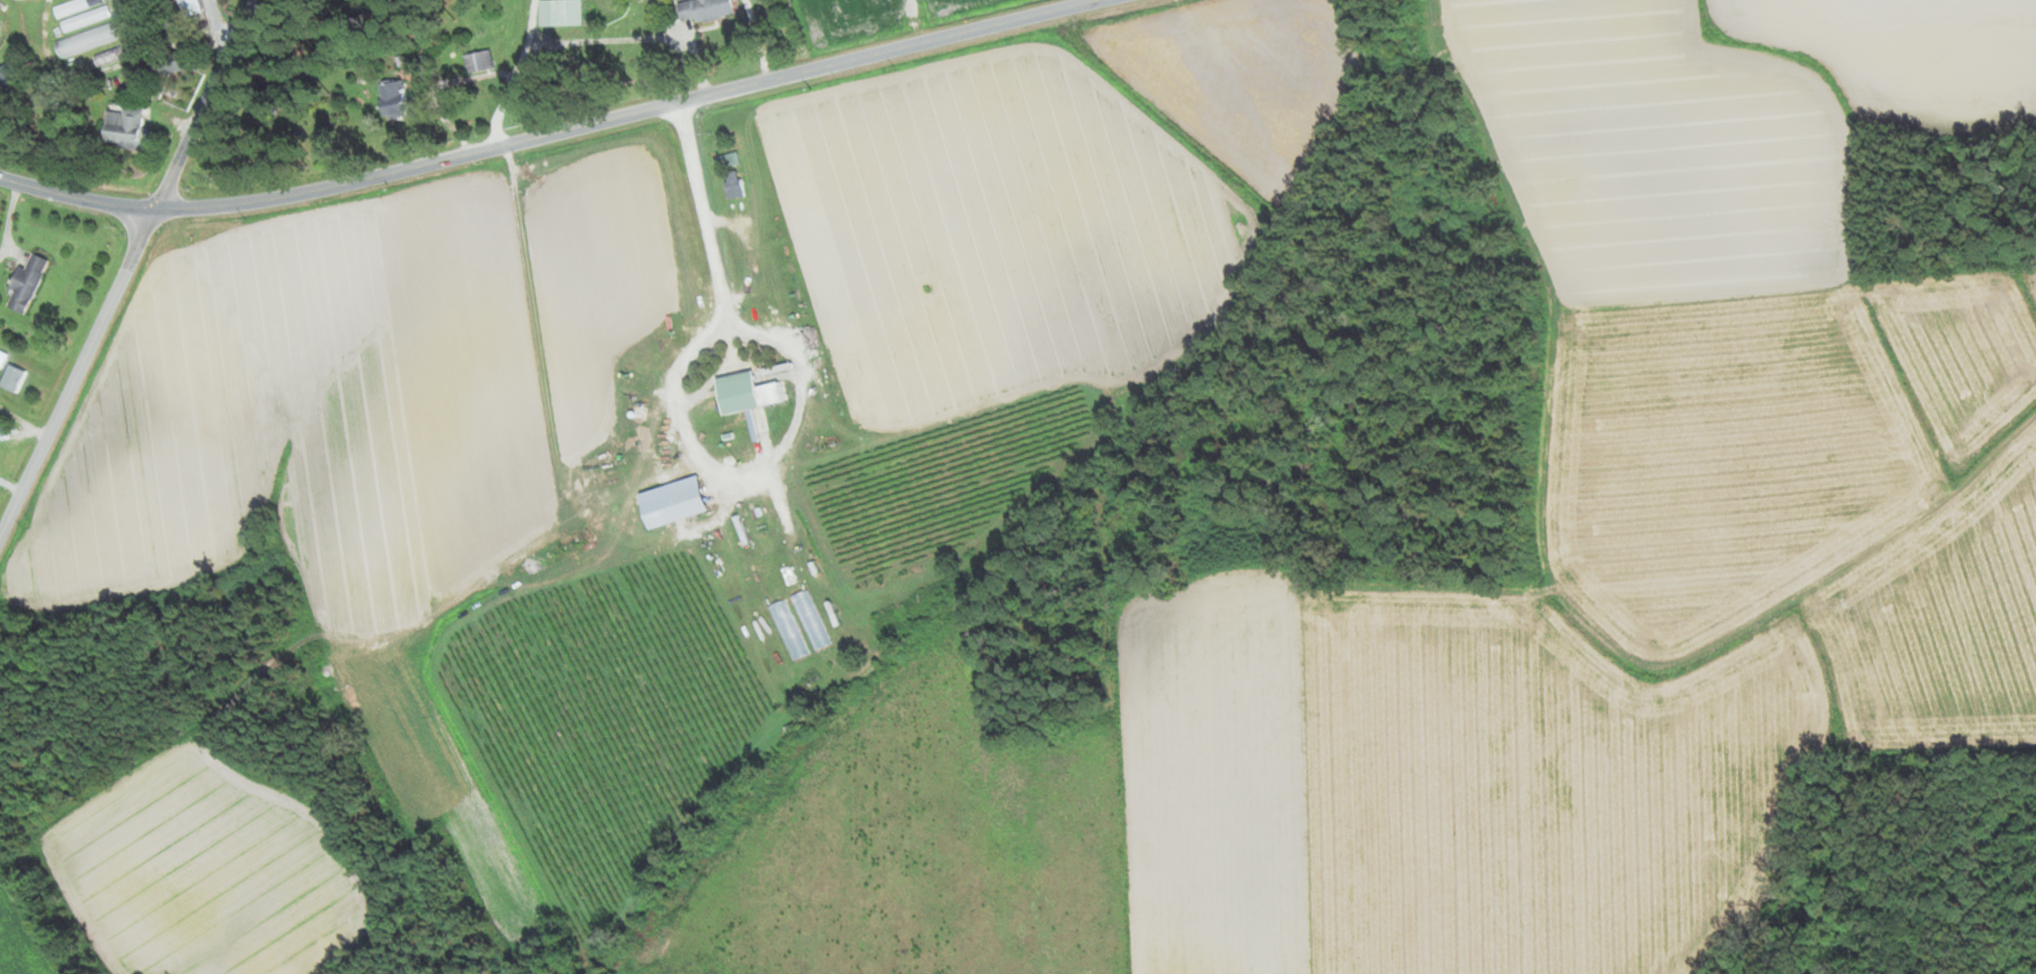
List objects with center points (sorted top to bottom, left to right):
building: (185, 6)
building: (702, 9)
building: (558, 12)
building: (78, 13)
road: (225, 23)
road: (798, 35)
building: (85, 39)
building: (106, 56)
building: (476, 61)
building: (166, 63)
building: (5, 72)
road: (514, 76)
building: (388, 98)
building: (121, 125)
road: (553, 133)
building: (726, 160)
road: (130, 271)
building: (23, 282)
building: (734, 392)
road: (2006, 450)

